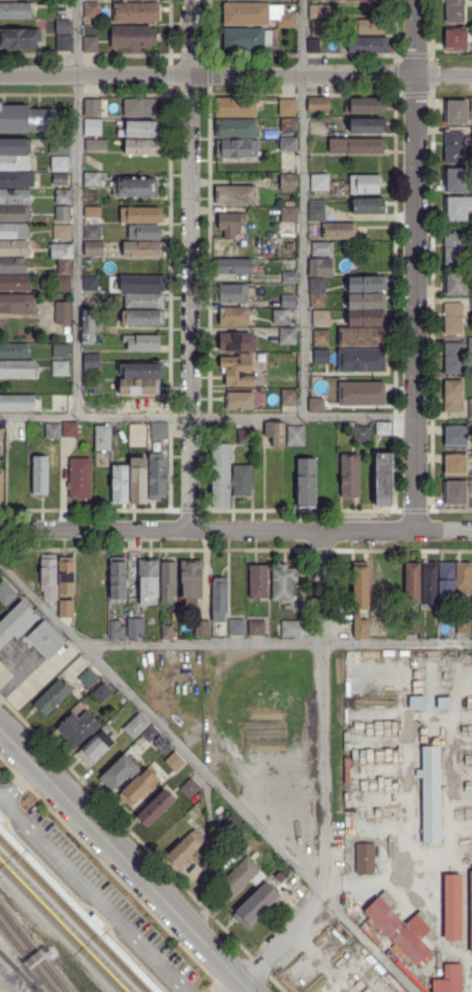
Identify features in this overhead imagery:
building: (97, 0)
building: (362, 0)
building: (471, 0)
building: (92, 10)
building: (15, 11)
building: (455, 11)
building: (137, 12)
building: (318, 12)
building: (258, 15)
building: (63, 27)
building: (369, 27)
building: (321, 28)
building: (133, 37)
building: (20, 38)
building: (458, 38)
building: (247, 39)
building: (65, 44)
building: (88, 45)
building: (314, 45)
building: (368, 45)
road: (236, 74)
building: (470, 104)
building: (320, 105)
building: (365, 105)
building: (287, 106)
building: (91, 107)
building: (236, 107)
building: (139, 108)
building: (260, 113)
building: (456, 113)
building: (26, 120)
building: (288, 125)
building: (368, 126)
building: (92, 127)
building: (141, 129)
building: (236, 129)
building: (471, 134)
building: (95, 145)
building: (288, 145)
building: (356, 146)
building: (455, 146)
building: (13, 147)
building: (59, 147)
building: (144, 147)
building: (237, 148)
building: (14, 163)
building: (60, 164)
building: (17, 179)
building: (93, 179)
building: (455, 181)
building: (60, 182)
building: (288, 182)
building: (320, 182)
building: (365, 184)
building: (136, 188)
building: (236, 195)
building: (15, 197)
building: (64, 197)
road: (77, 207)
road: (304, 207)
building: (369, 207)
building: (456, 208)
building: (317, 211)
building: (92, 213)
building: (14, 214)
building: (63, 214)
building: (141, 215)
building: (289, 215)
building: (231, 226)
building: (14, 231)
building: (62, 232)
building: (93, 232)
building: (339, 232)
building: (144, 233)
building: (14, 248)
building: (94, 249)
building: (454, 249)
building: (144, 250)
building: (322, 250)
building: (62, 251)
road: (416, 264)
road: (190, 265)
building: (13, 266)
building: (232, 267)
building: (320, 267)
building: (65, 268)
building: (290, 277)
building: (14, 282)
building: (90, 282)
building: (456, 283)
building: (63, 284)
building: (142, 284)
building: (367, 284)
building: (317, 286)
building: (232, 294)
building: (144, 301)
building: (318, 301)
building: (367, 301)
building: (289, 302)
building: (470, 302)
building: (17, 304)
building: (94, 306)
building: (63, 313)
building: (234, 317)
building: (281, 317)
building: (455, 317)
building: (143, 318)
building: (321, 318)
building: (367, 318)
building: (89, 326)
building: (67, 331)
building: (288, 336)
building: (362, 337)
building: (321, 338)
building: (69, 339)
building: (238, 342)
building: (142, 343)
building: (469, 346)
building: (61, 349)
building: (14, 352)
building: (322, 356)
building: (454, 358)
building: (362, 361)
building: (92, 363)
building: (17, 369)
building: (61, 369)
building: (238, 370)
building: (142, 371)
building: (87, 384)
building: (139, 387)
building: (362, 394)
building: (453, 396)
building: (290, 398)
building: (240, 401)
building: (17, 402)
building: (91, 404)
building: (145, 404)
building: (317, 404)
building: (470, 410)
road: (207, 415)
building: (350, 426)
building: (70, 429)
building: (384, 429)
building: (1, 430)
building: (53, 431)
building: (17, 432)
building: (160, 432)
building: (276, 434)
building: (362, 434)
building: (296, 436)
building: (456, 436)
building: (103, 438)
building: (245, 438)
building: (470, 440)
building: (1, 450)
building: (258, 453)
building: (455, 463)
building: (40, 476)
building: (221, 476)
building: (158, 477)
building: (350, 477)
building: (80, 479)
building: (139, 480)
building: (384, 480)
building: (243, 481)
building: (307, 482)
building: (120, 484)
building: (17, 487)
building: (1, 490)
building: (456, 492)
road: (208, 530)
road: (444, 530)
building: (48, 570)
building: (66, 576)
building: (118, 579)
building: (463, 579)
building: (168, 580)
building: (447, 580)
building: (191, 581)
building: (258, 581)
building: (378, 582)
building: (284, 583)
building: (413, 583)
building: (429, 583)
building: (149, 584)
building: (361, 585)
building: (6, 594)
building: (52, 597)
building: (219, 599)
building: (66, 608)
building: (16, 622)
building: (412, 623)
building: (464, 625)
building: (359, 627)
building: (237, 628)
building: (257, 628)
building: (377, 628)
building: (135, 629)
building: (202, 629)
building: (287, 629)
building: (167, 632)
building: (117, 633)
building: (46, 640)
road: (275, 643)
parking lot: (22, 672)
building: (88, 678)
building: (102, 693)
building: (52, 698)
building: (135, 724)
building: (79, 728)
building: (148, 732)
building: (160, 741)
building: (96, 748)
building: (175, 763)
parking lot: (0, 766)
road: (326, 769)
building: (119, 772)
road: (208, 776)
road: (20, 783)
building: (139, 788)
building: (190, 788)
building: (431, 793)
building: (157, 808)
building: (197, 815)
building: (0, 817)
road: (6, 818)
building: (233, 828)
building: (185, 849)
road: (120, 851)
building: (365, 859)
road: (208, 860)
road: (45, 864)
road: (114, 873)
building: (191, 873)
building: (243, 877)
building: (296, 885)
road: (95, 894)
parking lot: (102, 894)
road: (85, 903)
railway: (83, 905)
building: (255, 906)
building: (453, 907)
railway: (77, 911)
building: (471, 912)
railway: (73, 915)
railway: (72, 916)
railway: (69, 920)
railway: (65, 924)
railway: (62, 927)
railway: (61, 928)
building: (399, 930)
road: (131, 948)
railway: (33, 949)
building: (392, 956)
railway: (27, 957)
railway: (8, 960)
railway: (8, 961)
building: (449, 979)
railway: (28, 980)
road: (221, 980)
road: (248, 984)
railway: (34, 987)

